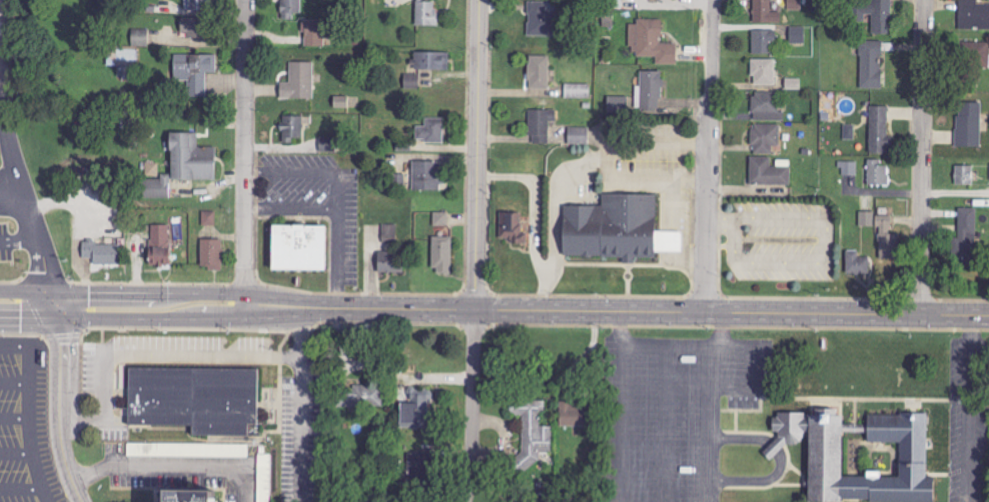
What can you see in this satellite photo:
building: (197, 4)
building: (615, 4)
building: (794, 4)
building: (290, 8)
building: (765, 12)
building: (426, 13)
building: (878, 15)
building: (974, 15)
building: (539, 19)
building: (192, 29)
building: (314, 32)
building: (797, 34)
building: (763, 41)
building: (651, 42)
building: (976, 58)
building: (429, 62)
building: (871, 64)
building: (193, 71)
building: (763, 71)
building: (538, 72)
building: (299, 81)
building: (651, 90)
building: (578, 91)
building: (339, 102)
building: (618, 105)
road: (4, 106)
building: (767, 106)
building: (968, 124)
building: (541, 125)
road: (6, 126)
building: (293, 127)
building: (432, 129)
building: (879, 129)
building: (578, 135)
building: (764, 138)
building: (327, 144)
road: (244, 152)
road: (708, 156)
road: (922, 158)
building: (182, 165)
building: (849, 168)
building: (152, 169)
building: (768, 172)
building: (877, 172)
building: (427, 175)
building: (964, 175)
road: (955, 193)
building: (208, 218)
building: (440, 219)
building: (867, 219)
building: (511, 228)
building: (617, 229)
building: (390, 233)
building: (966, 235)
road: (20, 240)
building: (160, 245)
building: (890, 245)
building: (296, 247)
road: (44, 251)
road: (476, 251)
building: (101, 252)
building: (211, 254)
building: (442, 254)
building: (390, 262)
building: (857, 263)
road: (494, 311)
road: (14, 347)
road: (670, 348)
road: (144, 355)
road: (14, 384)
building: (359, 396)
building: (195, 398)
road: (290, 400)
building: (415, 408)
road: (971, 409)
building: (572, 414)
road: (14, 419)
road: (710, 424)
road: (626, 425)
road: (667, 425)
road: (29, 426)
building: (531, 433)
road: (16, 453)
road: (173, 465)
building: (264, 478)
road: (21, 489)
building: (182, 496)

